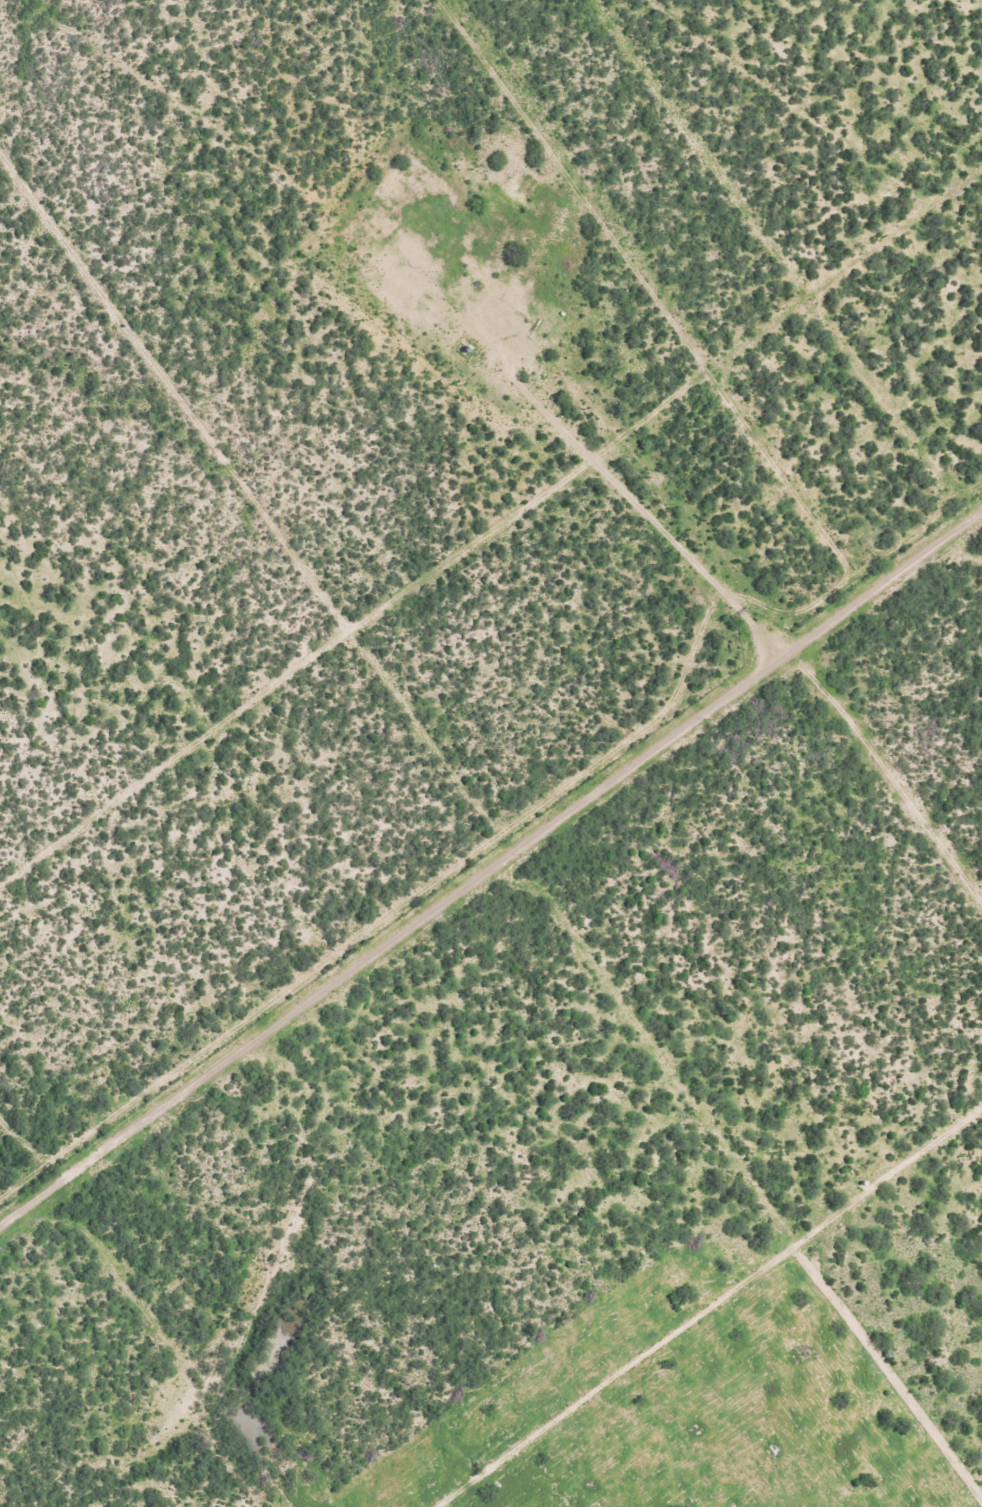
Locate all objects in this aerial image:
road: (490, 901)

